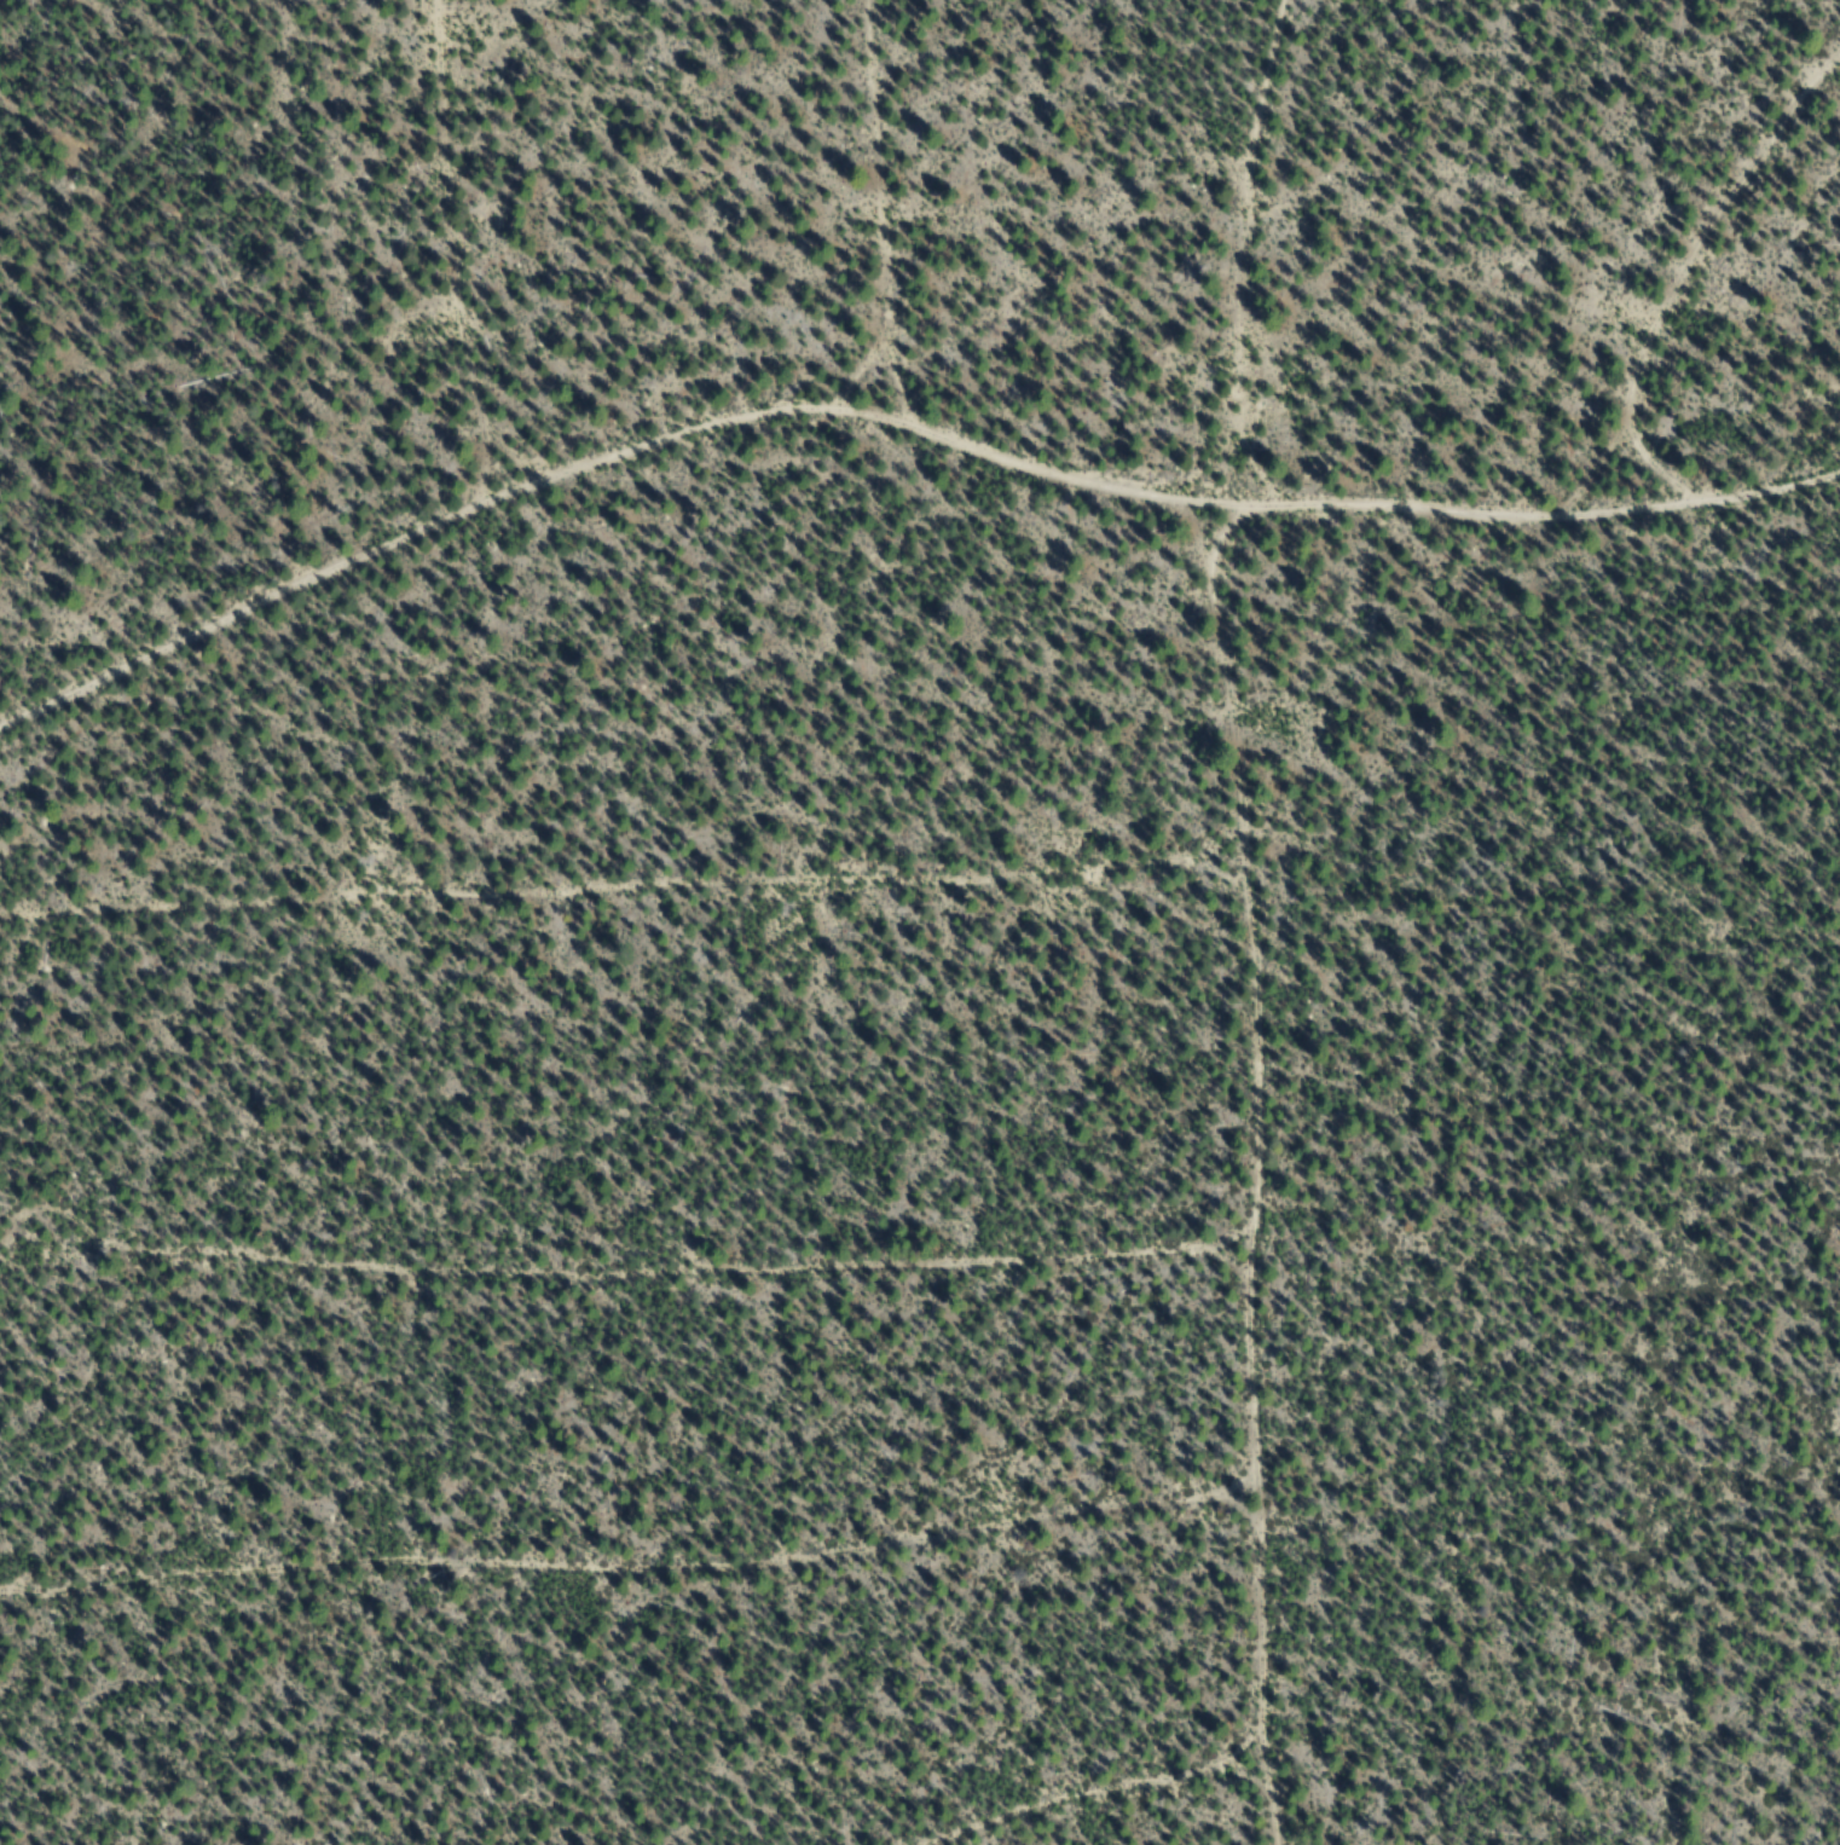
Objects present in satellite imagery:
road: (941, 189)
road: (494, 231)
road: (1734, 290)
road: (890, 368)
road: (635, 907)
road: (1279, 921)
road: (638, 1291)
road: (652, 1597)
road: (1148, 1787)

